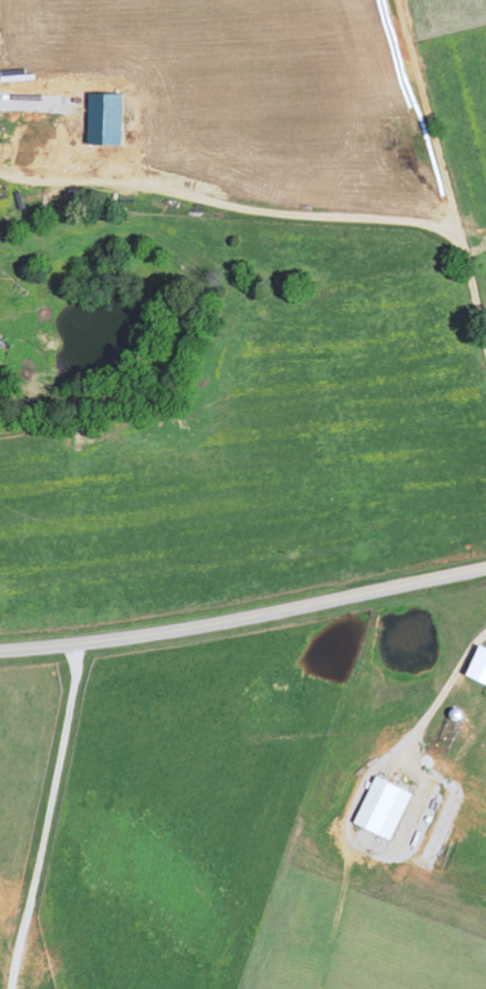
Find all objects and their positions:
road: (440, 177)
road: (225, 210)
road: (244, 619)
building: (478, 667)
road: (440, 694)
building: (382, 809)
road: (47, 817)

